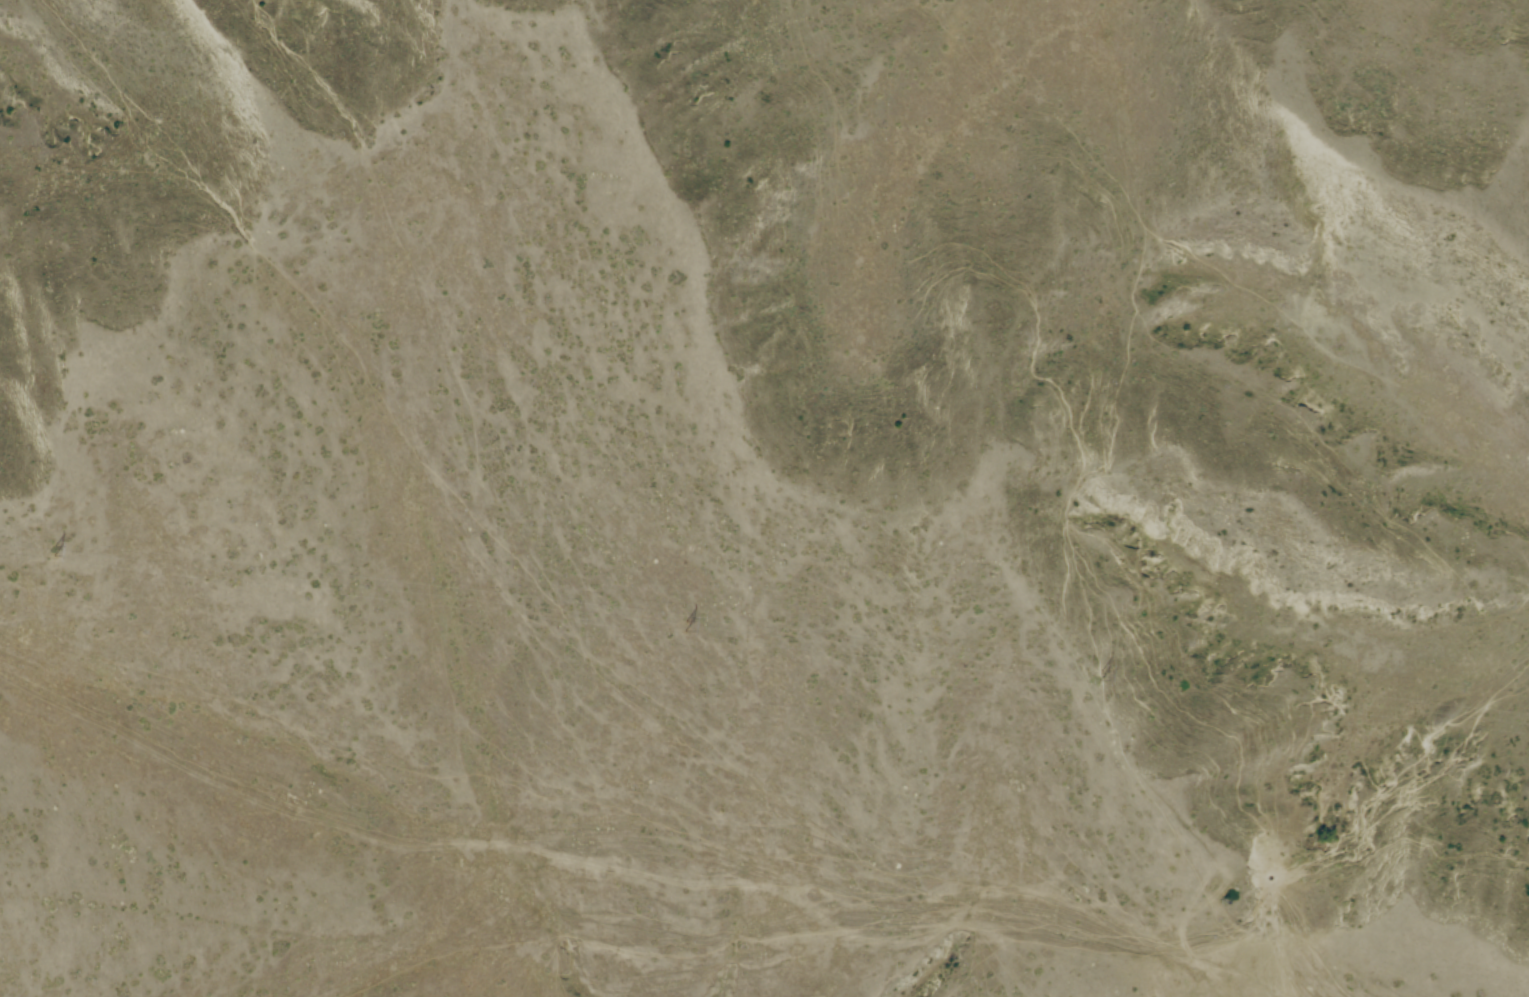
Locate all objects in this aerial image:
power tower: (52, 552)
power tower: (682, 628)
power tower: (1094, 676)

